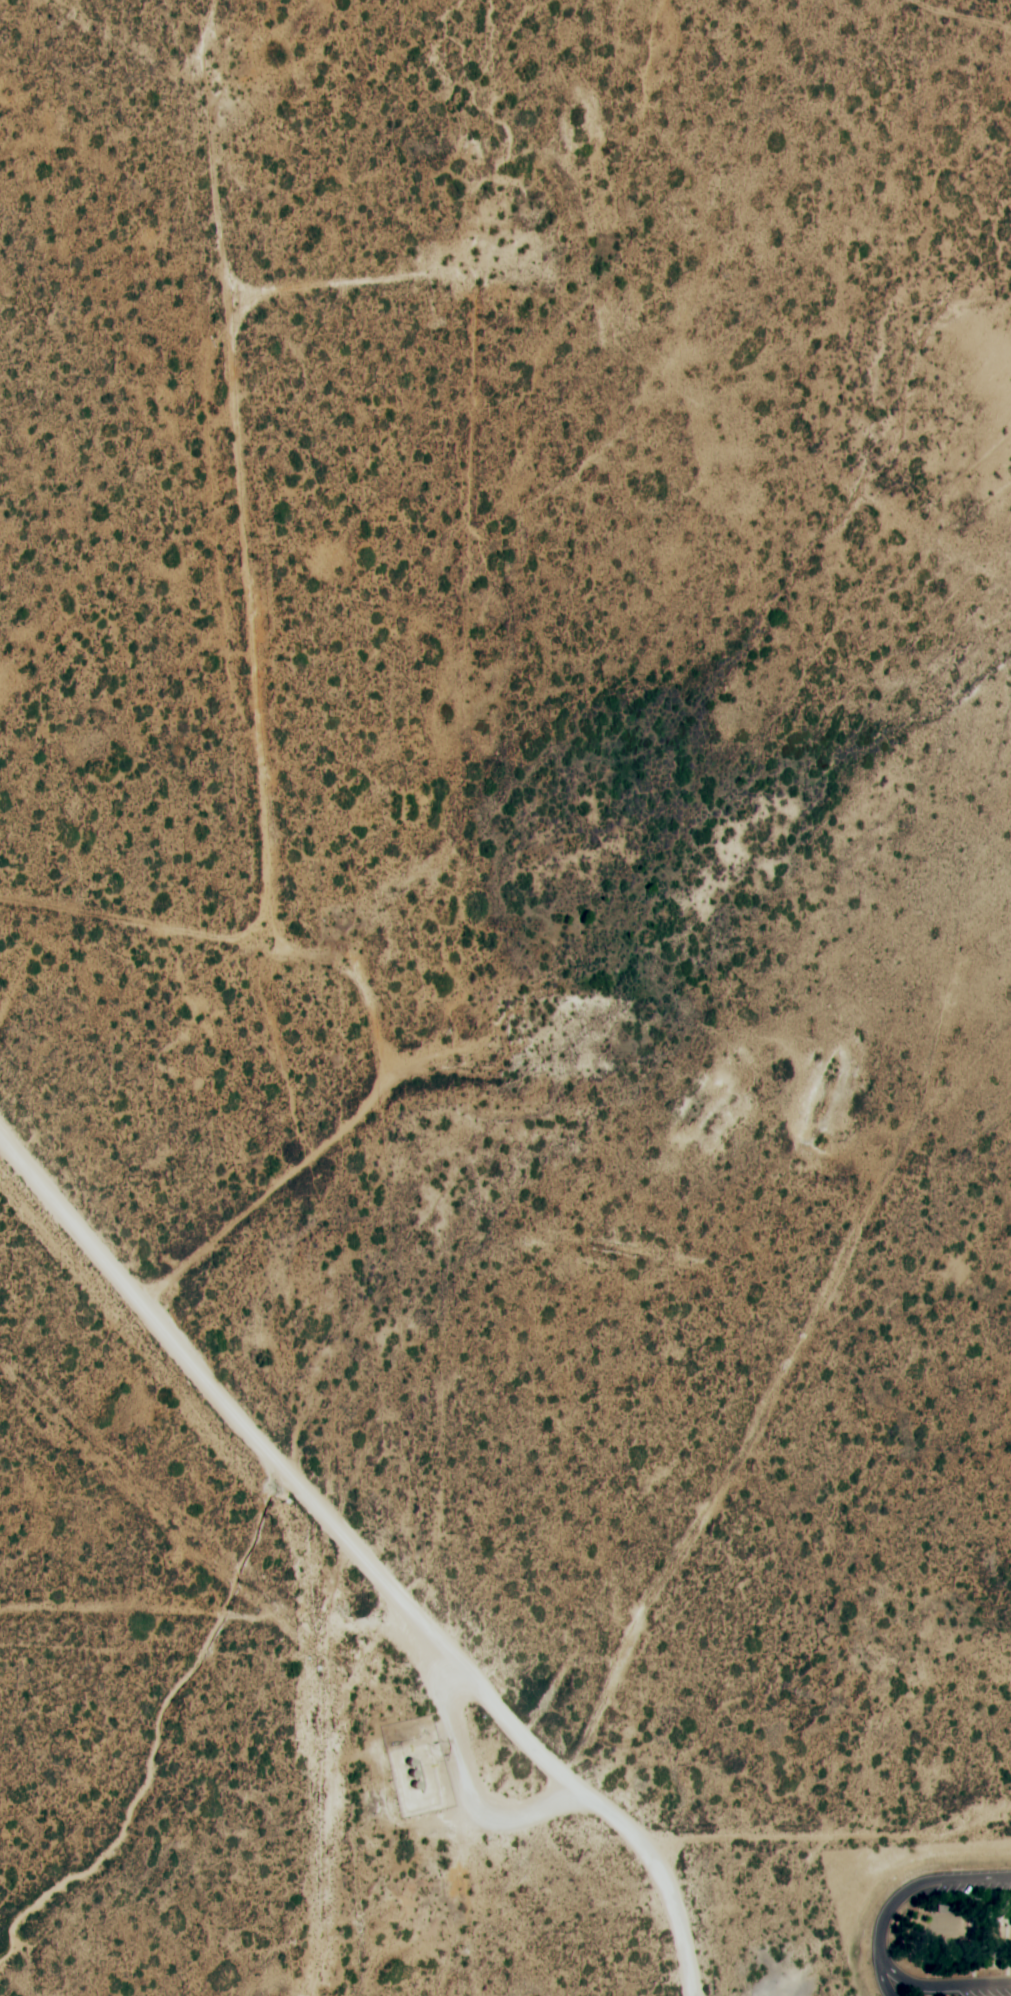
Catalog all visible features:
road: (287, 702)
road: (367, 1556)
road: (811, 1836)
road: (902, 1893)
road: (936, 1985)

